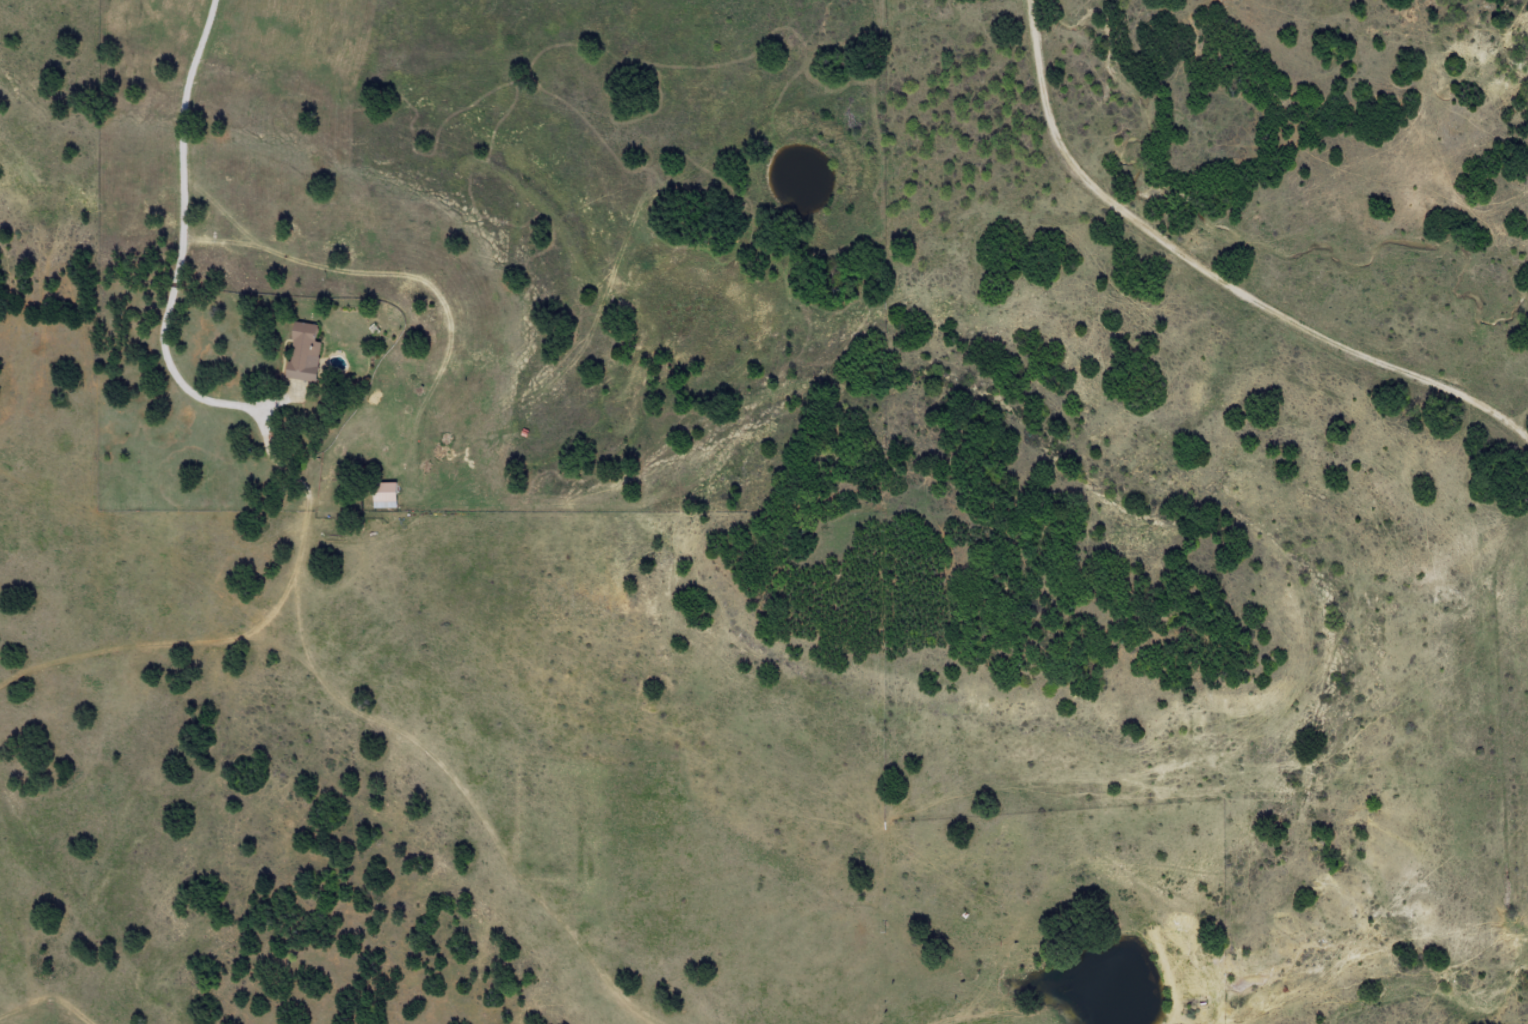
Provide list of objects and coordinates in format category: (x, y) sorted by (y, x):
building: (307, 351)
building: (388, 495)
road: (363, 596)

